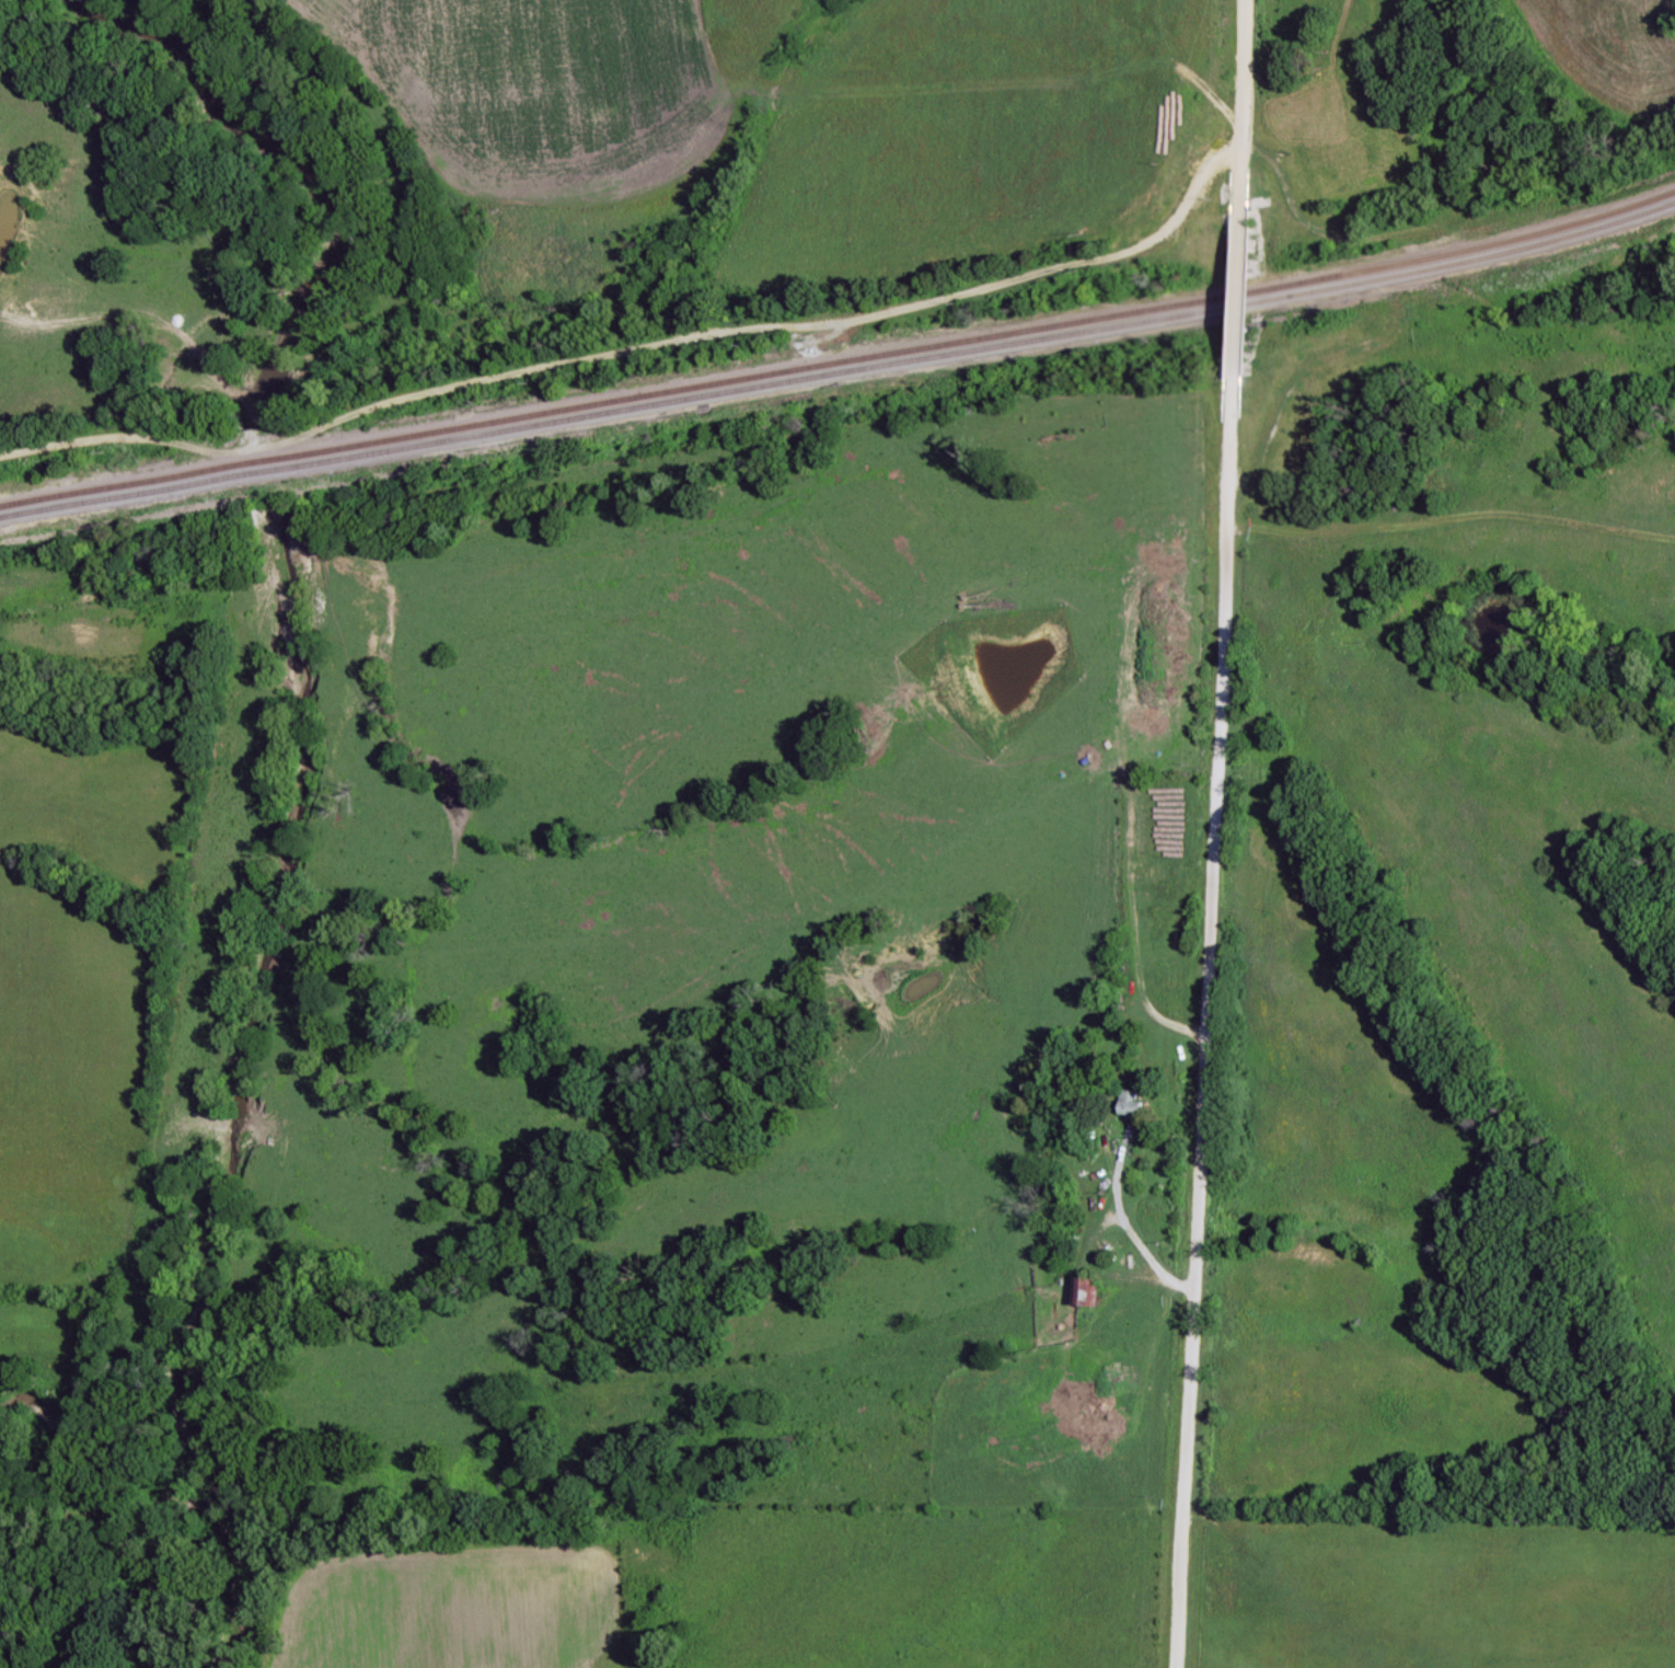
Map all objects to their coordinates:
road: (1254, 122)
road: (1284, 286)
road: (634, 348)
railway: (840, 363)
railway: (840, 372)
road: (1203, 991)
building: (1133, 1105)
building: (1088, 1292)

